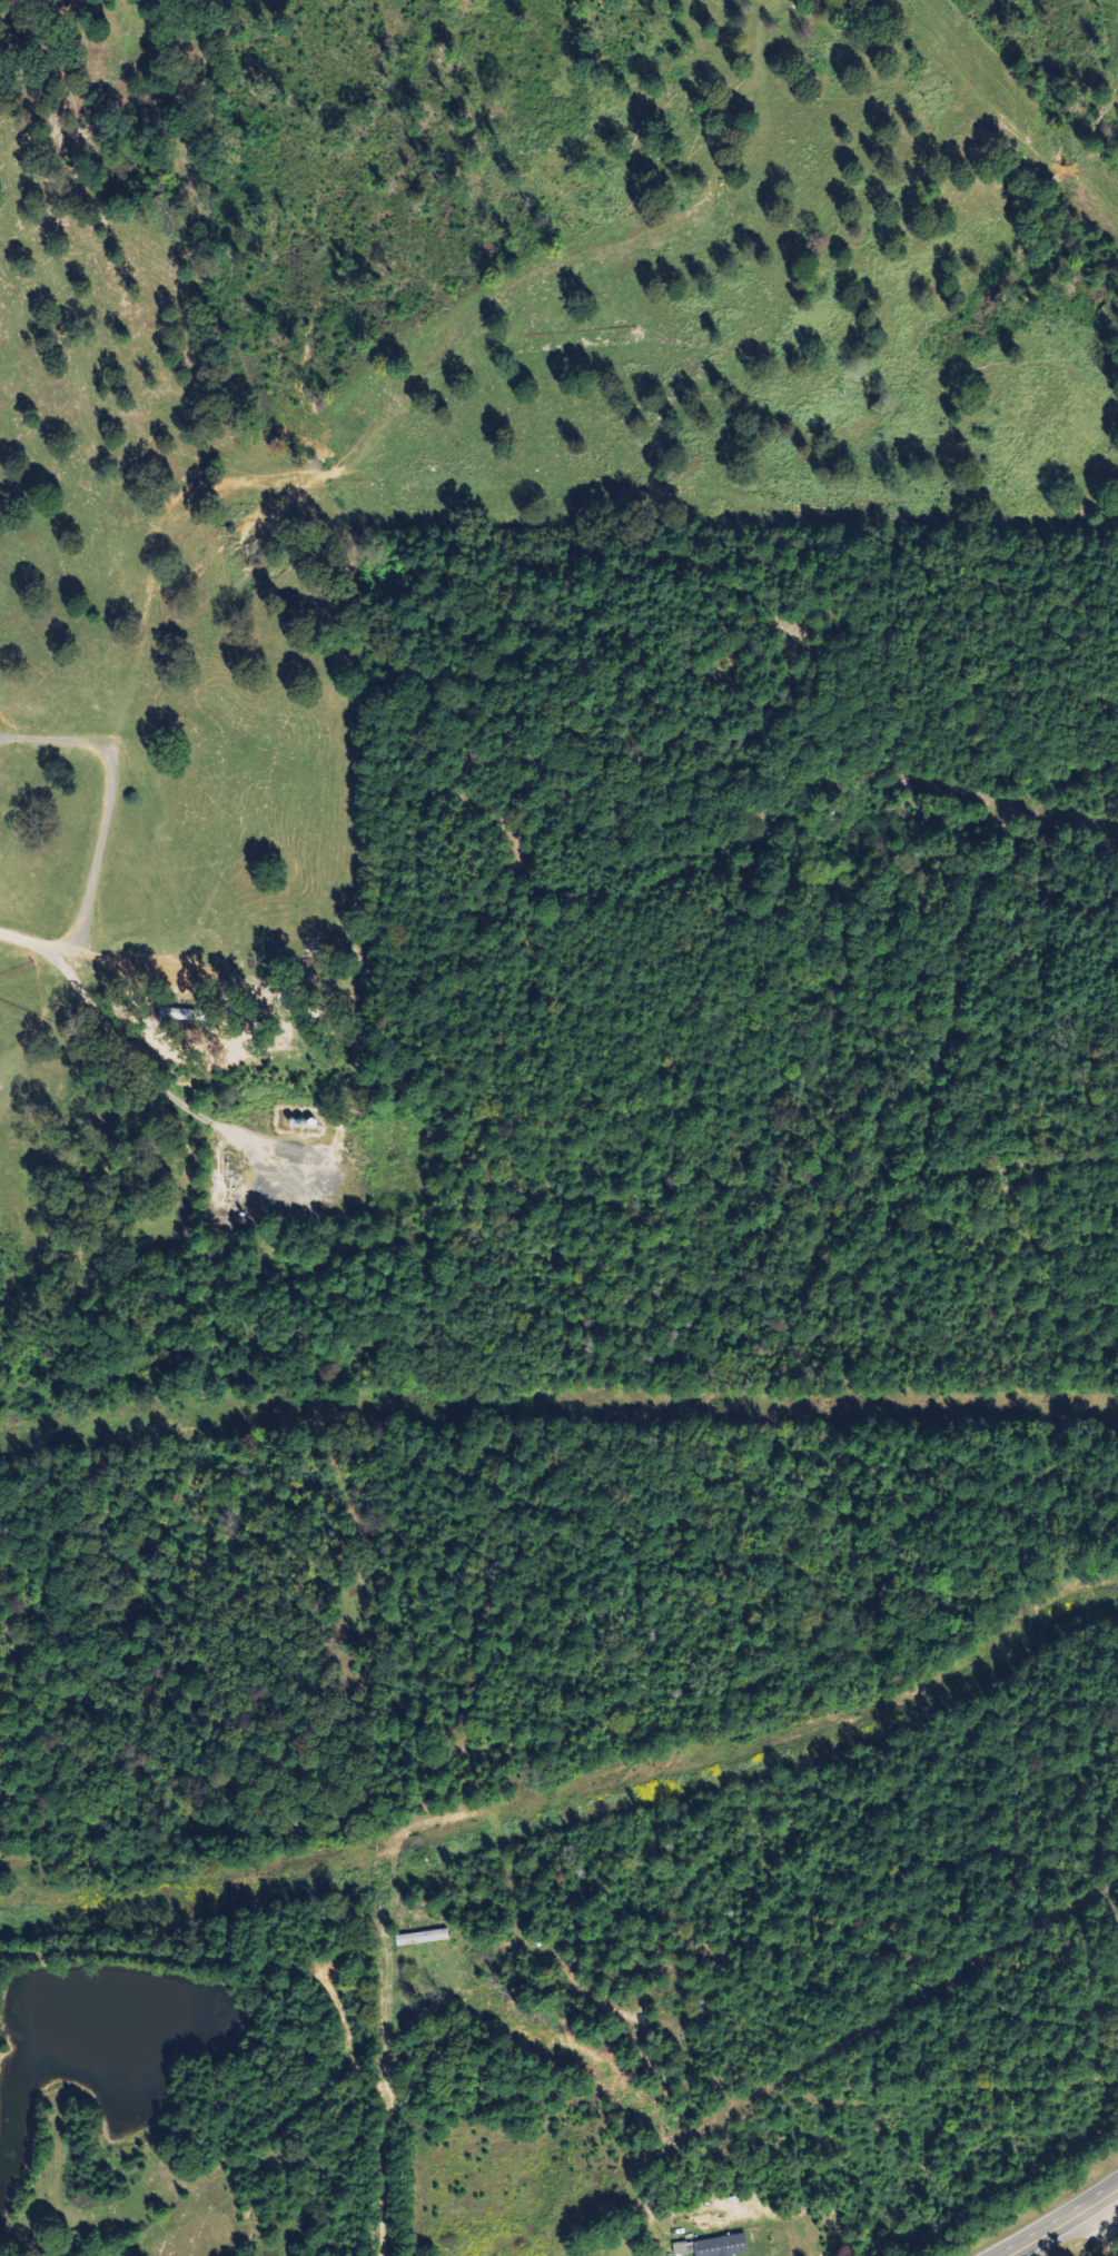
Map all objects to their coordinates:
road: (1025, 819)
road: (44, 947)
road: (390, 2109)
road: (1065, 2223)
road: (1100, 2230)
building: (714, 2247)

